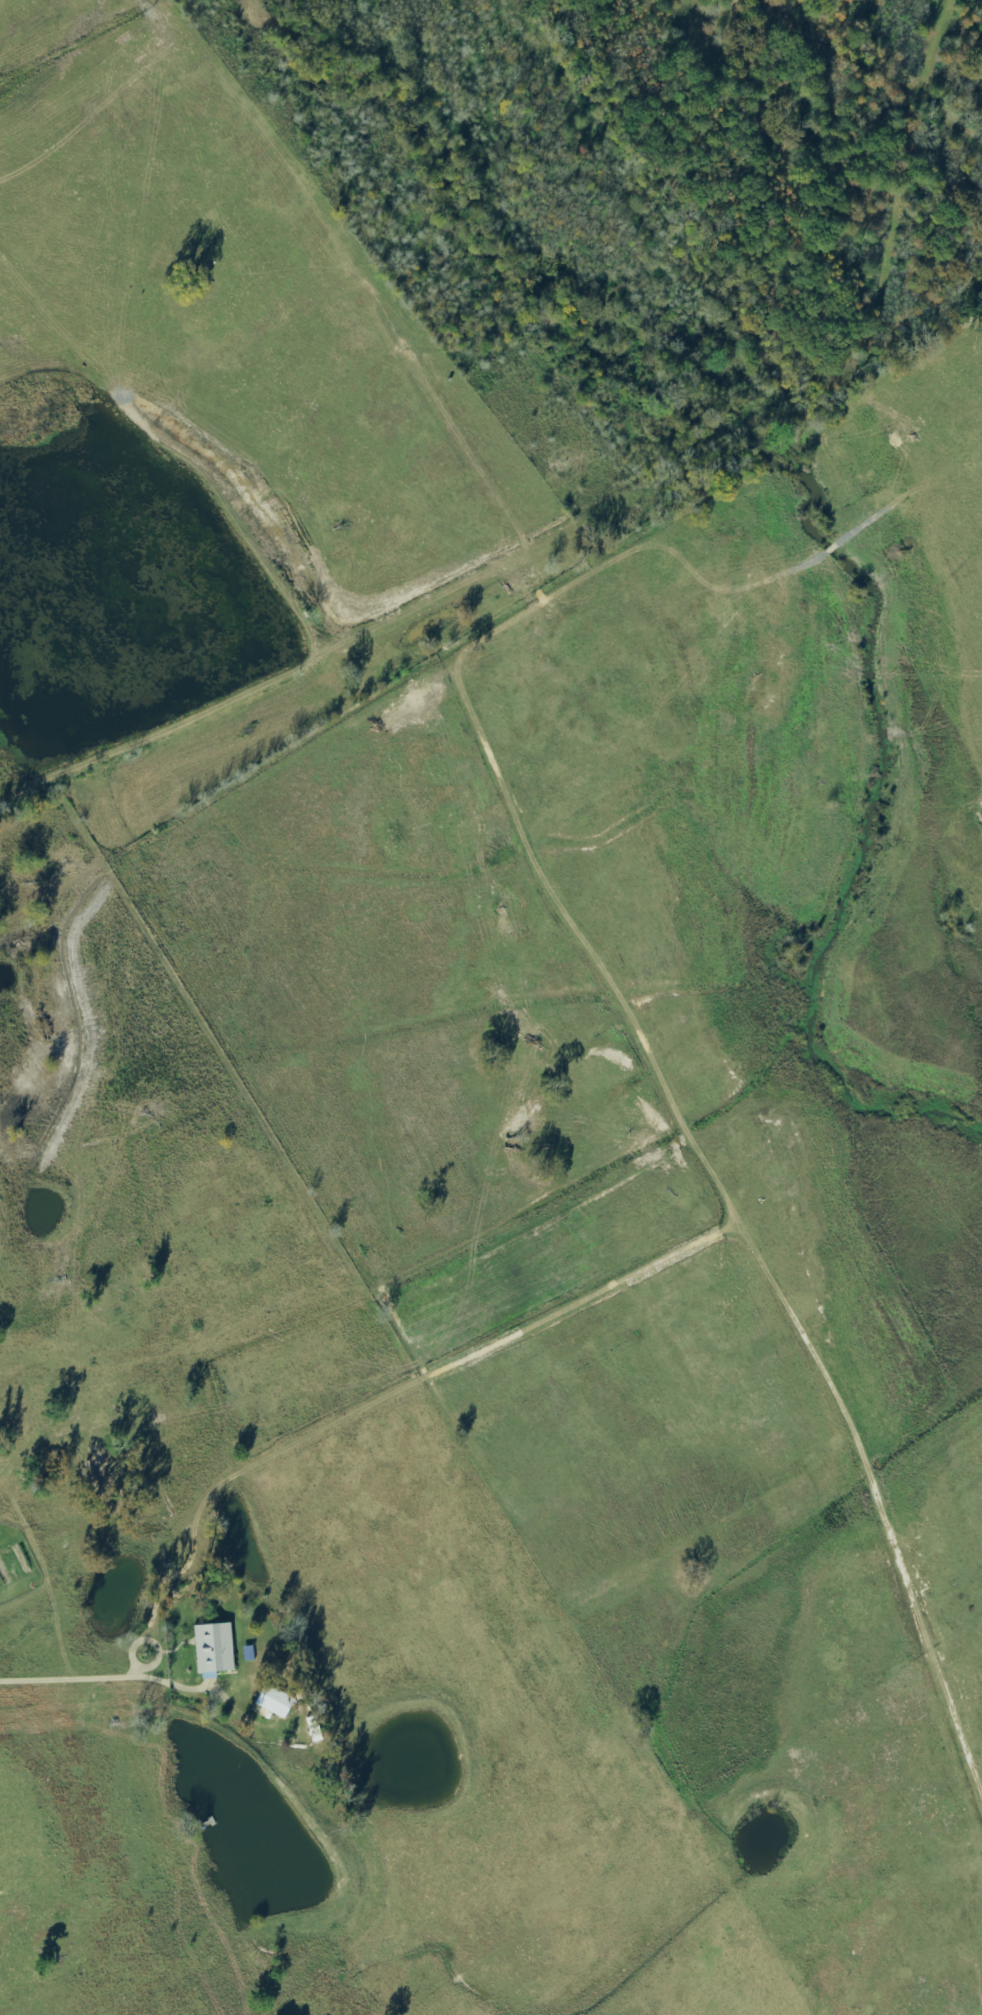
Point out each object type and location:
building: (212, 1648)
building: (247, 1654)
building: (272, 1702)

